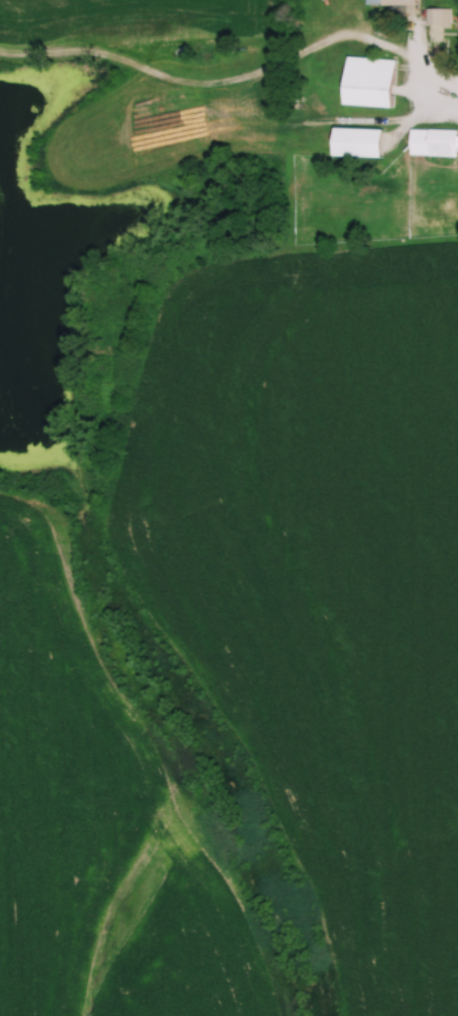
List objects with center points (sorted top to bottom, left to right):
building: (393, 2)
building: (438, 22)
road: (422, 73)
building: (370, 78)
building: (356, 137)
building: (432, 143)
crop: (323, 584)
crop: (101, 828)

